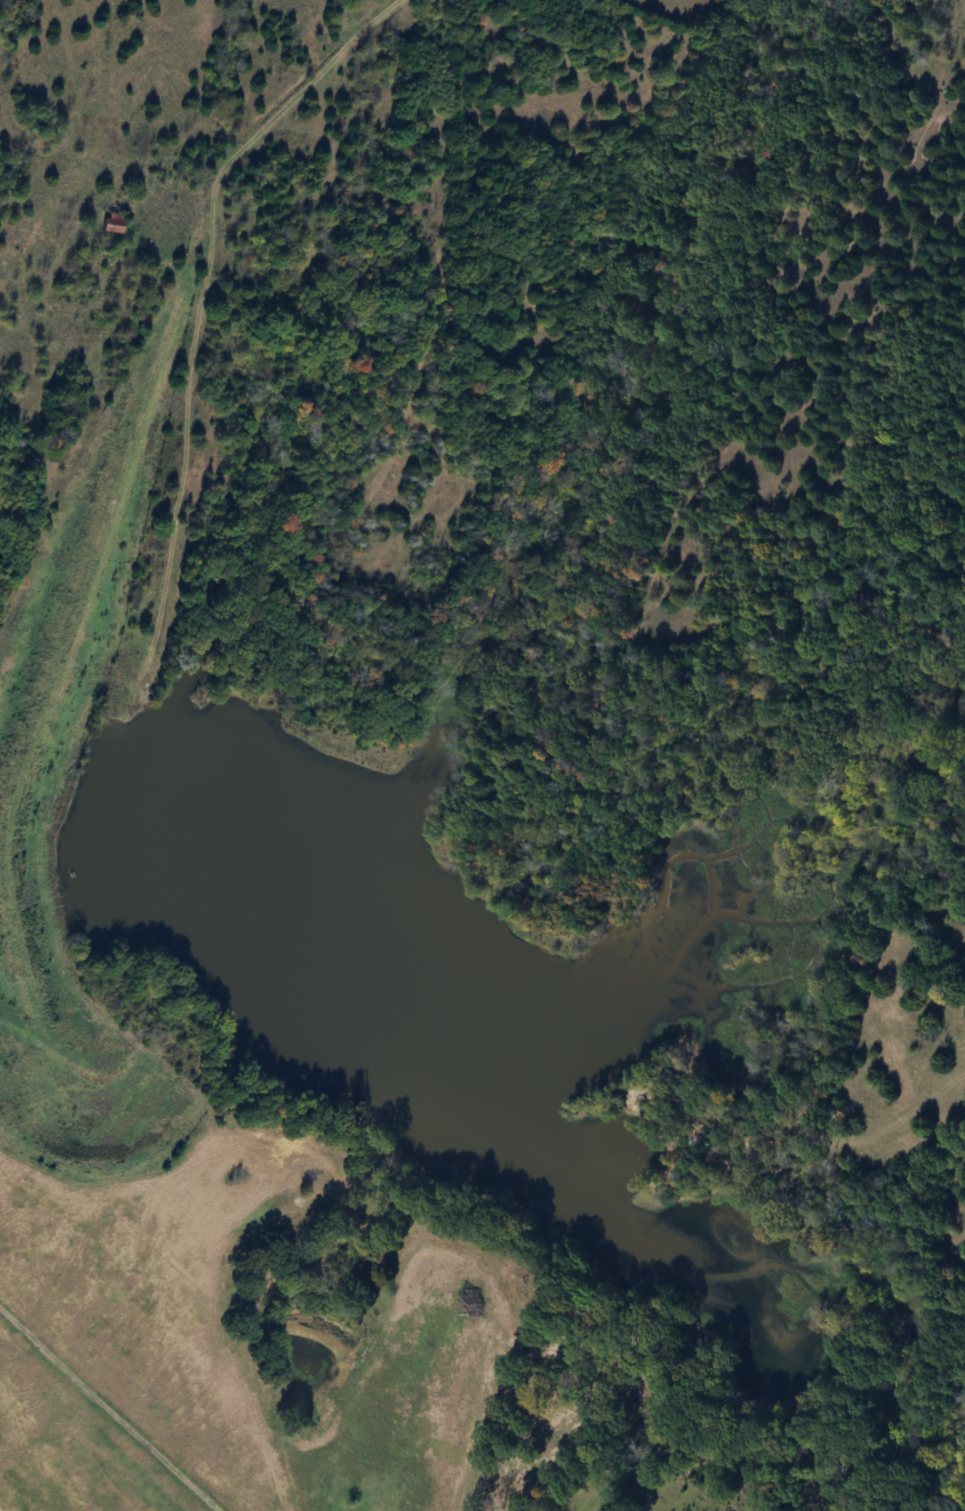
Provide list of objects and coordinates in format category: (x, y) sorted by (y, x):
building: (111, 223)

